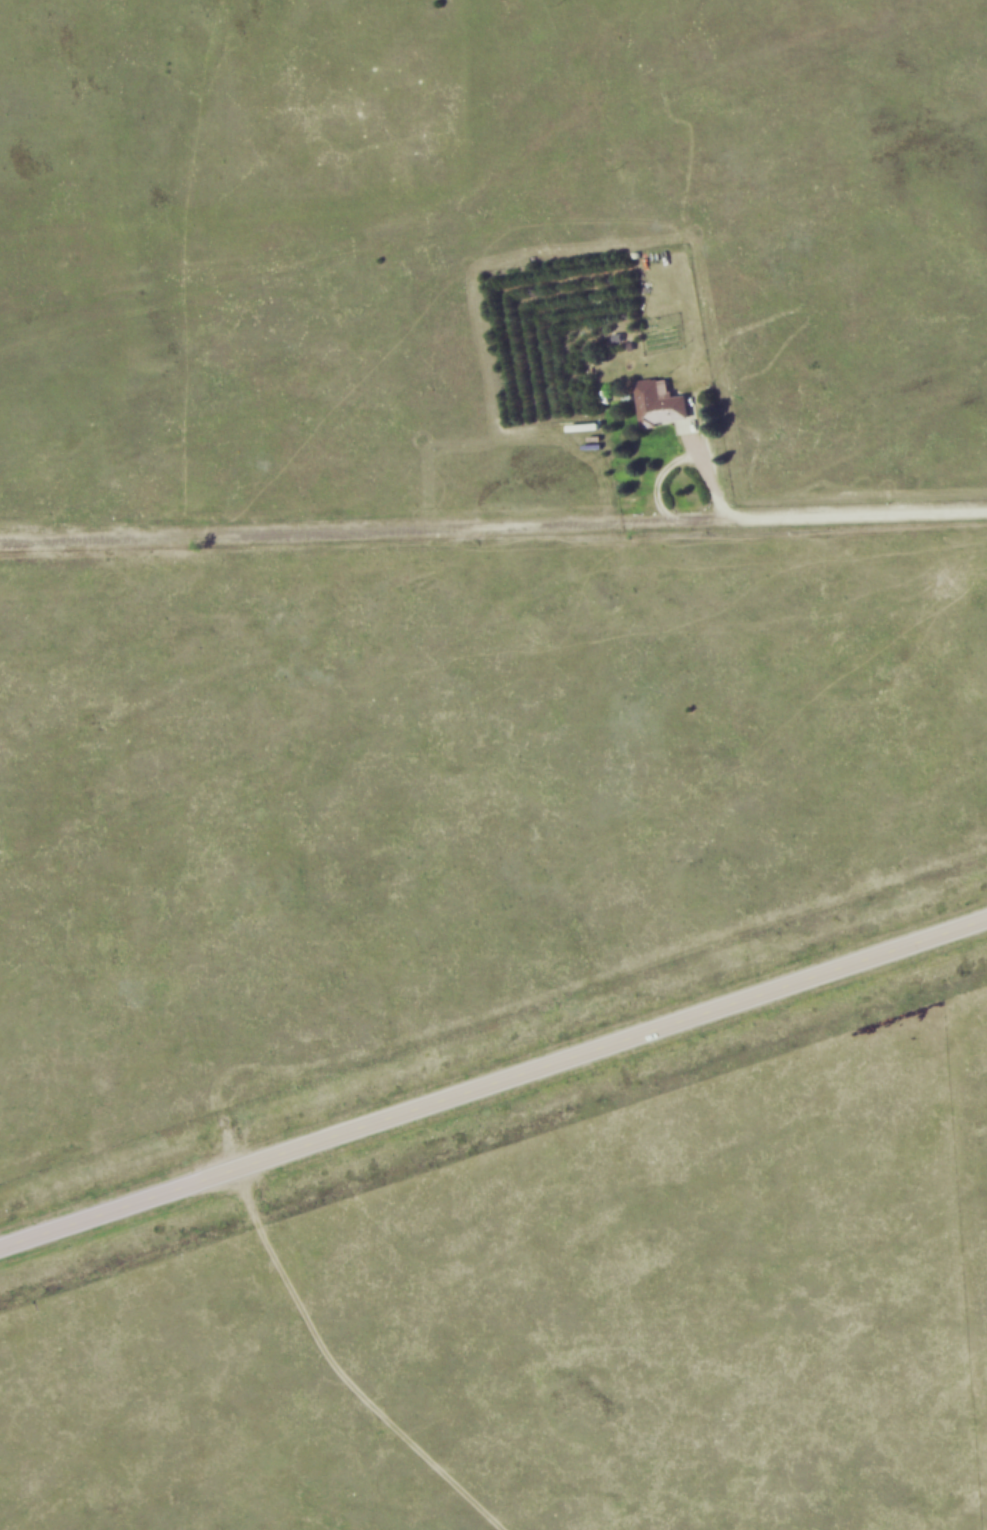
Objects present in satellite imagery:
building: (663, 401)
road: (803, 526)
road: (493, 1089)

